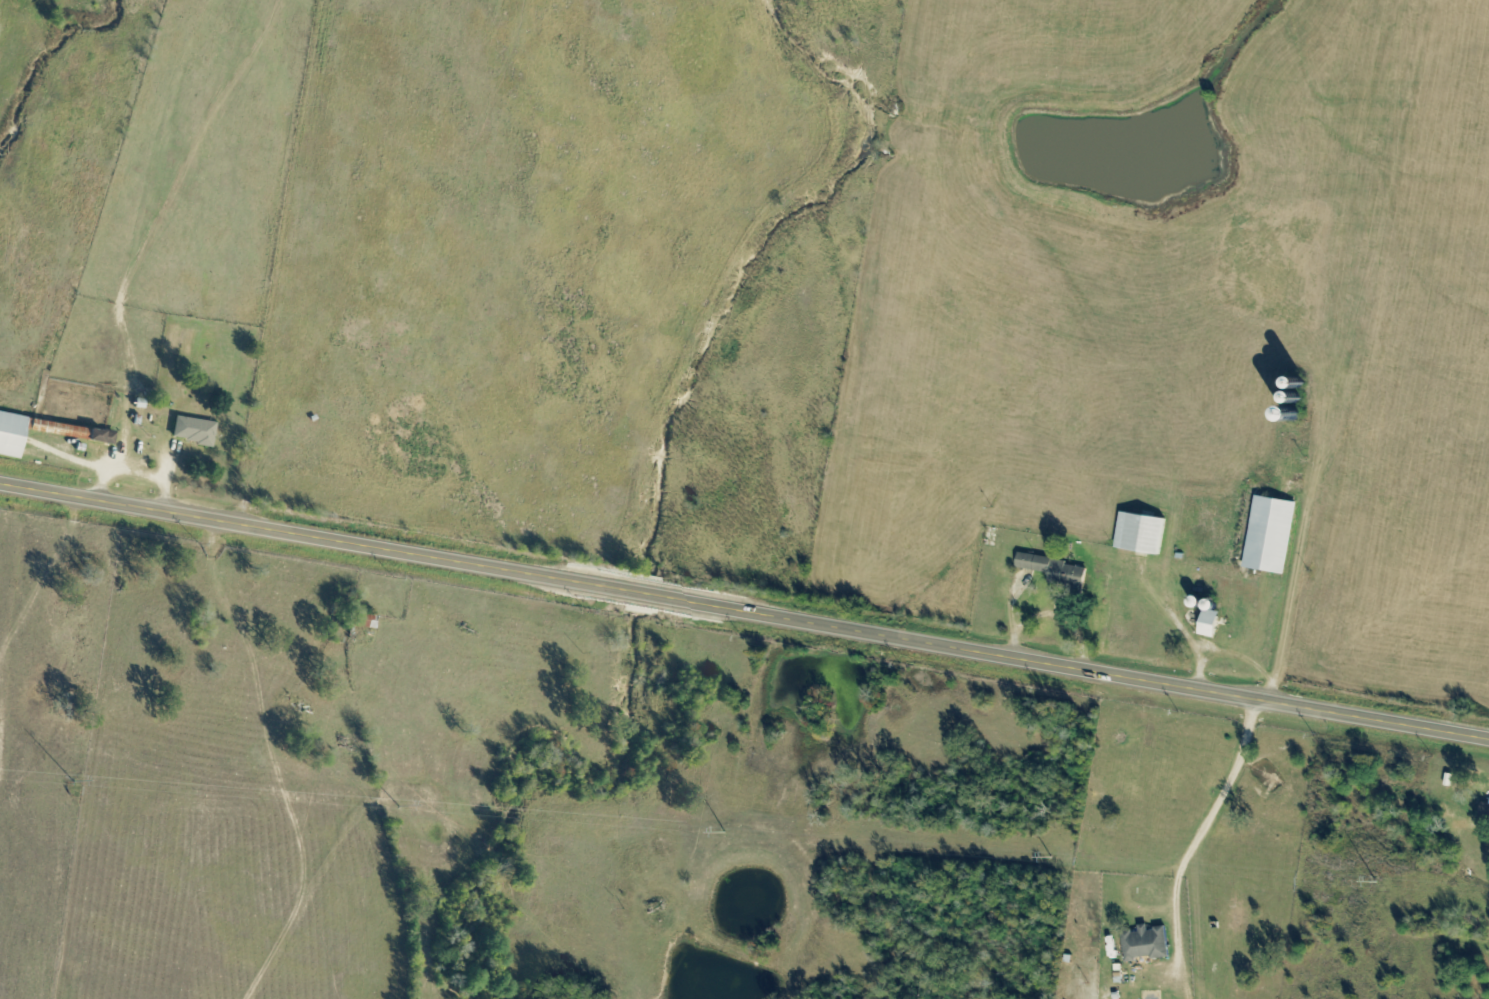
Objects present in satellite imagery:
building: (194, 432)
building: (12, 437)
building: (1143, 535)
building: (1272, 536)
building: (1058, 572)
road: (744, 611)
building: (1212, 621)
building: (1485, 812)
road: (1199, 817)
building: (1147, 945)

